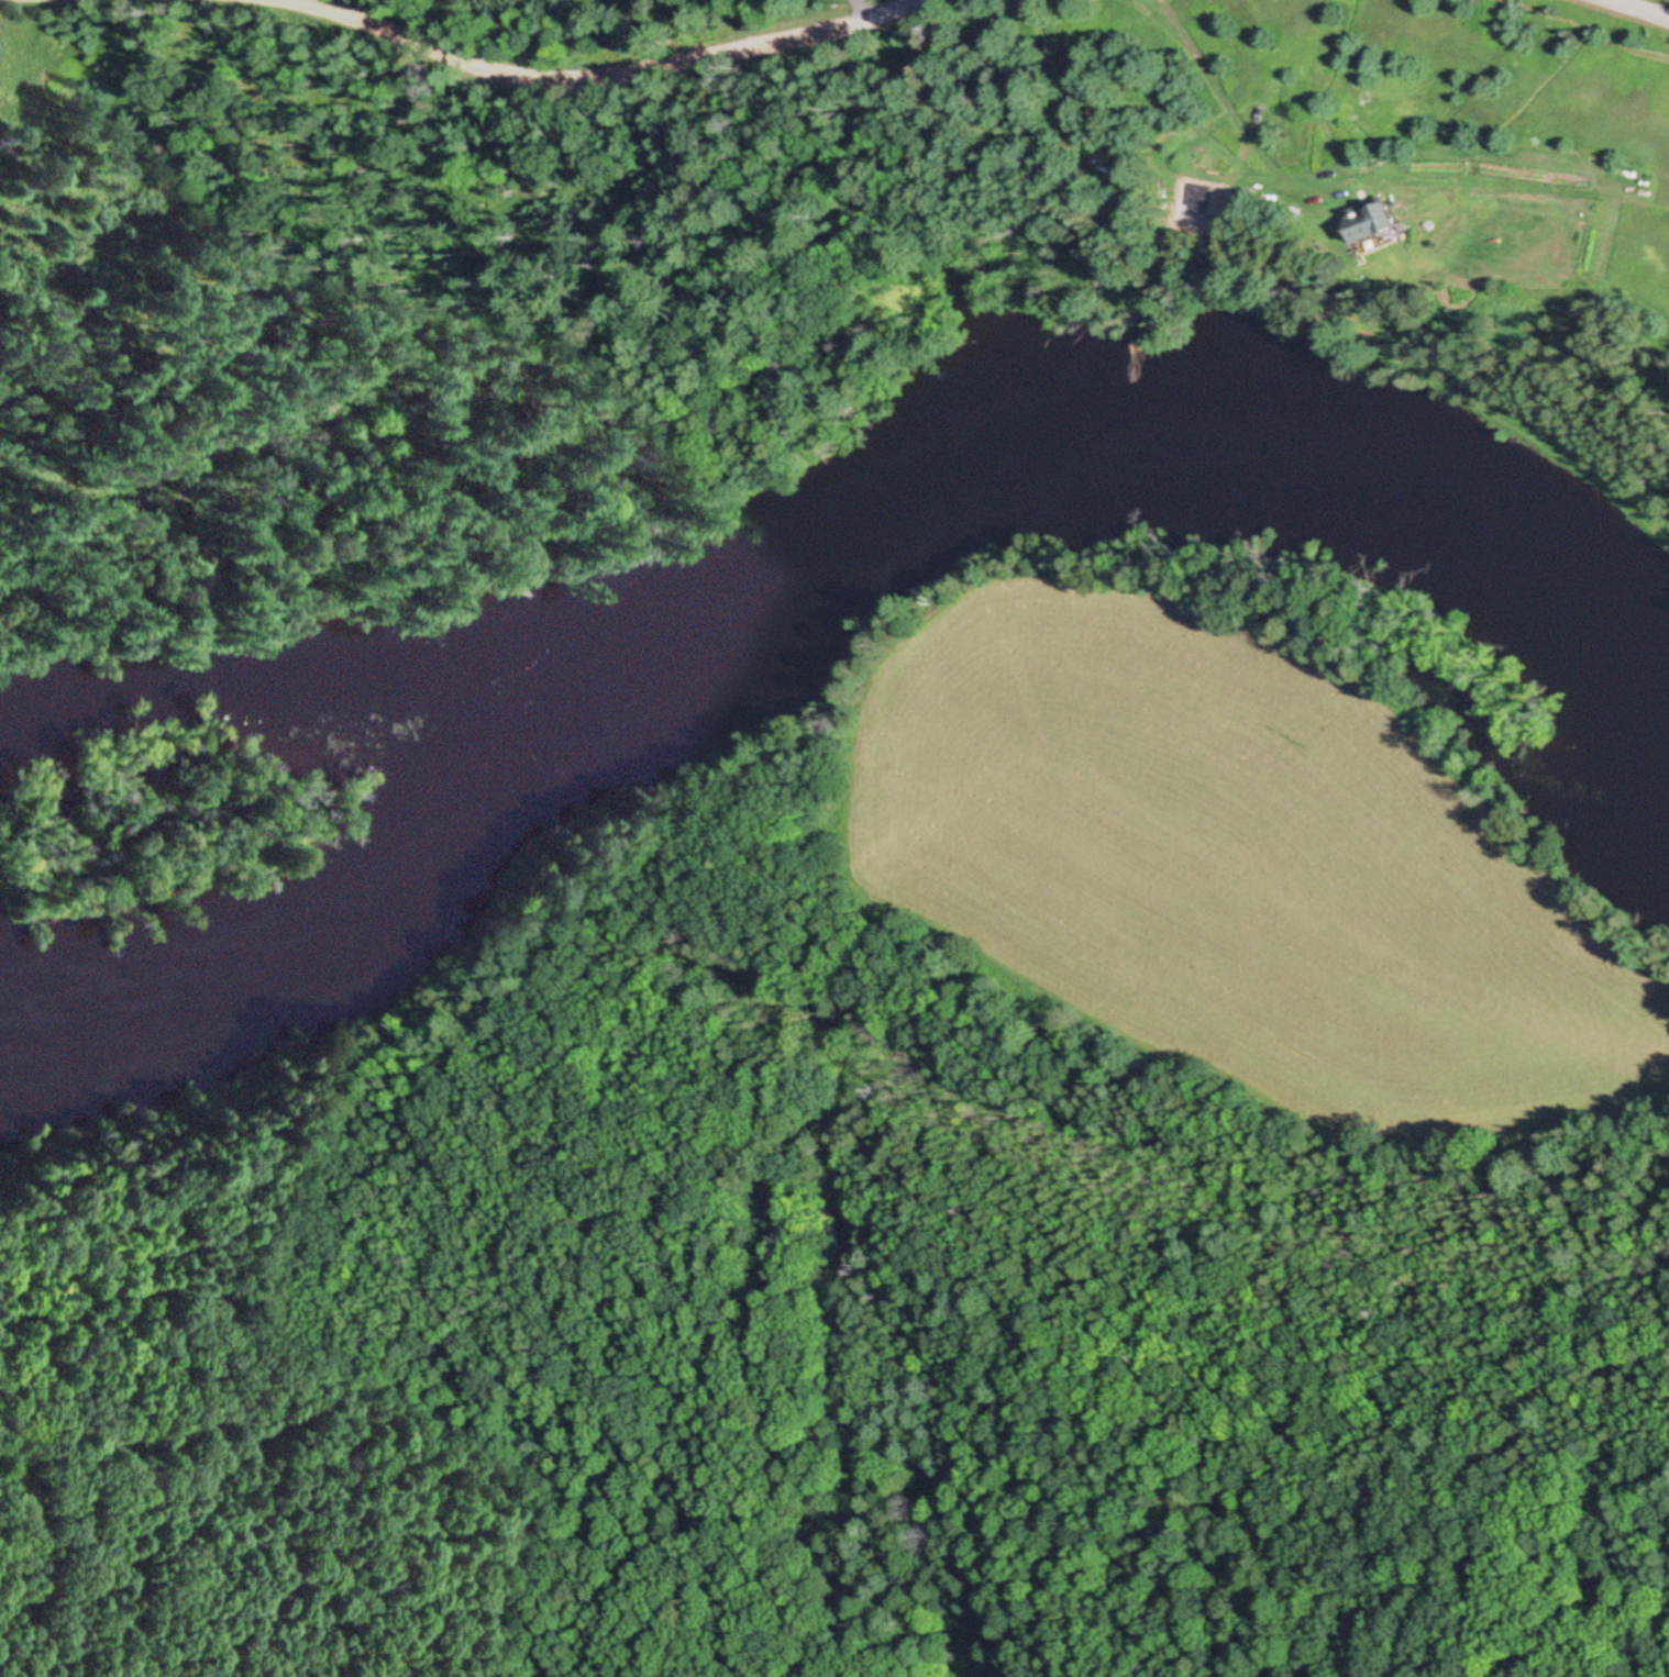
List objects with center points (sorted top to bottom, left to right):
road: (1635, 10)
road: (598, 77)
building: (1369, 227)
river: (816, 554)

